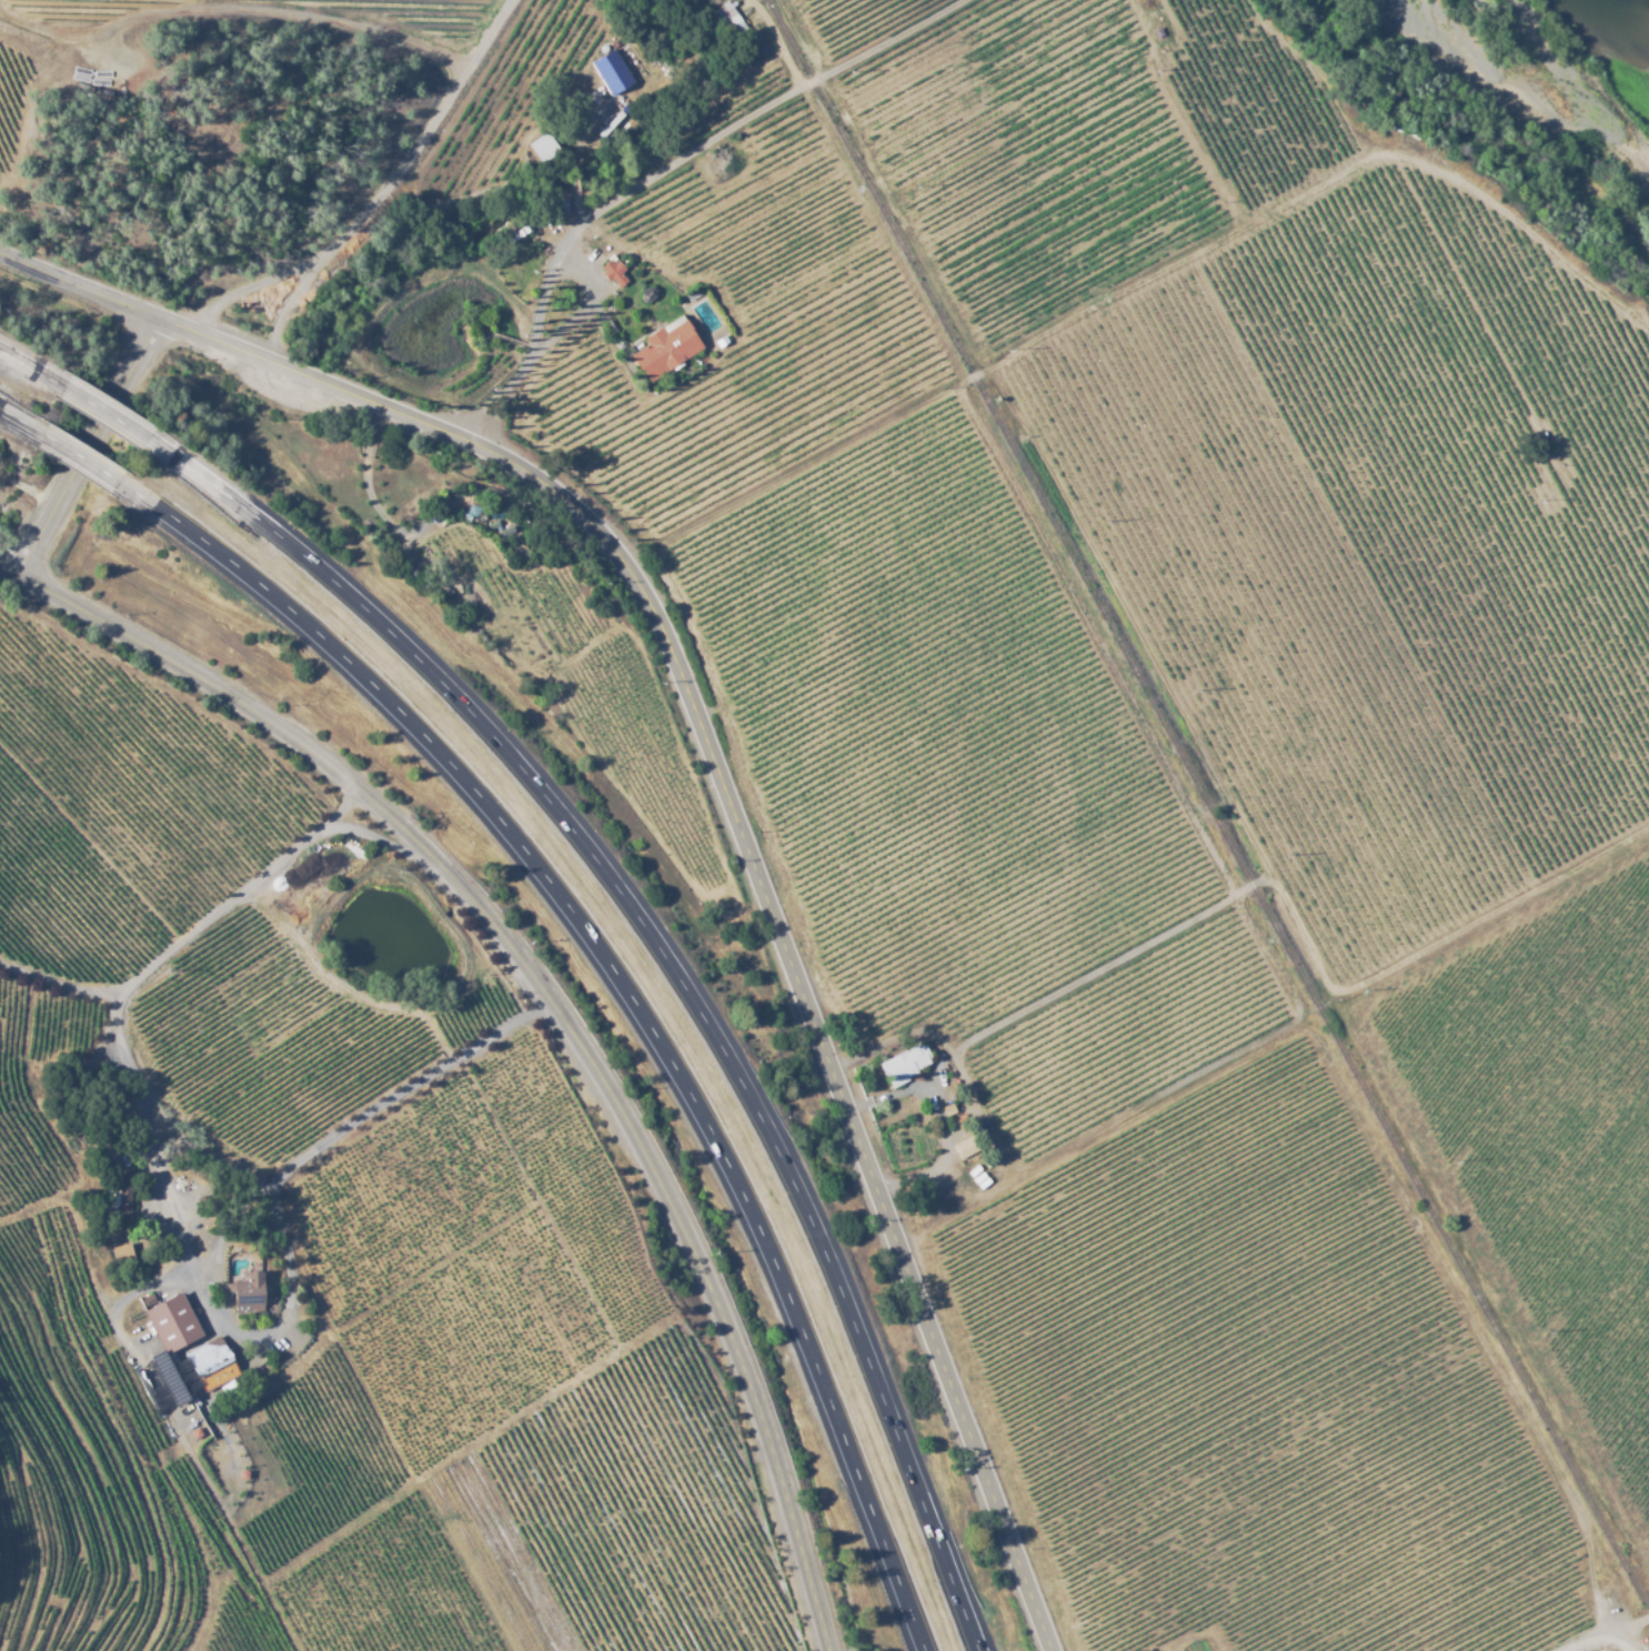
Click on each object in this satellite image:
building: (726, 14)
building: (619, 68)
building: (543, 154)
building: (514, 234)
building: (614, 271)
road: (82, 288)
building: (645, 294)
building: (666, 349)
road: (33, 375)
road: (21, 424)
road: (114, 424)
road: (95, 454)
road: (91, 466)
road: (13, 574)
railway: (1208, 806)
road: (751, 857)
road: (681, 975)
road: (639, 1000)
road: (562, 1015)
building: (905, 1064)
building: (951, 1109)
road: (344, 1132)
building: (966, 1147)
building: (122, 1197)
building: (121, 1254)
building: (249, 1292)
building: (167, 1321)
parking lot: (264, 1340)
building: (210, 1361)
road: (1611, 1633)

